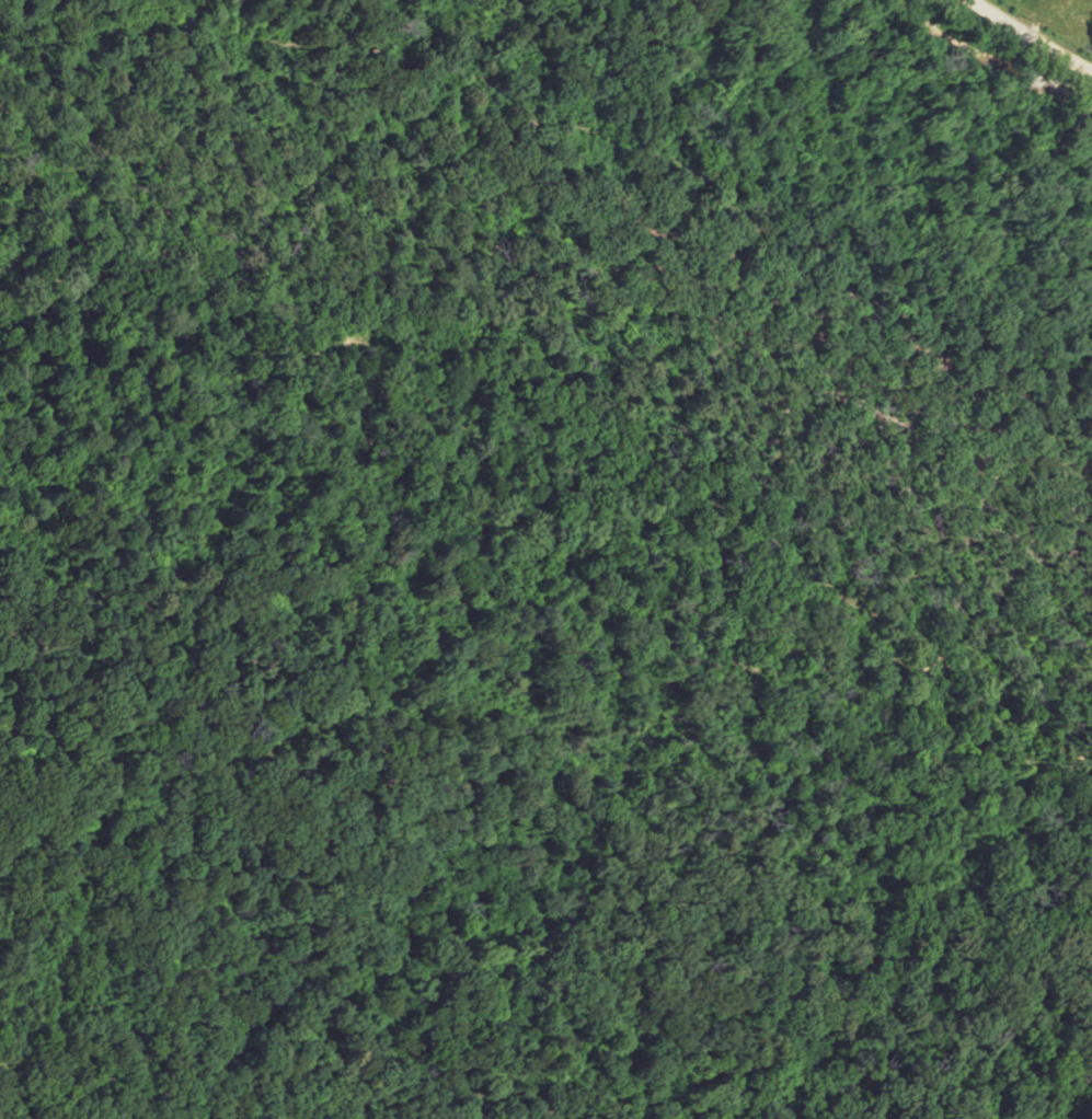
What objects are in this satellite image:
road: (1035, 34)

